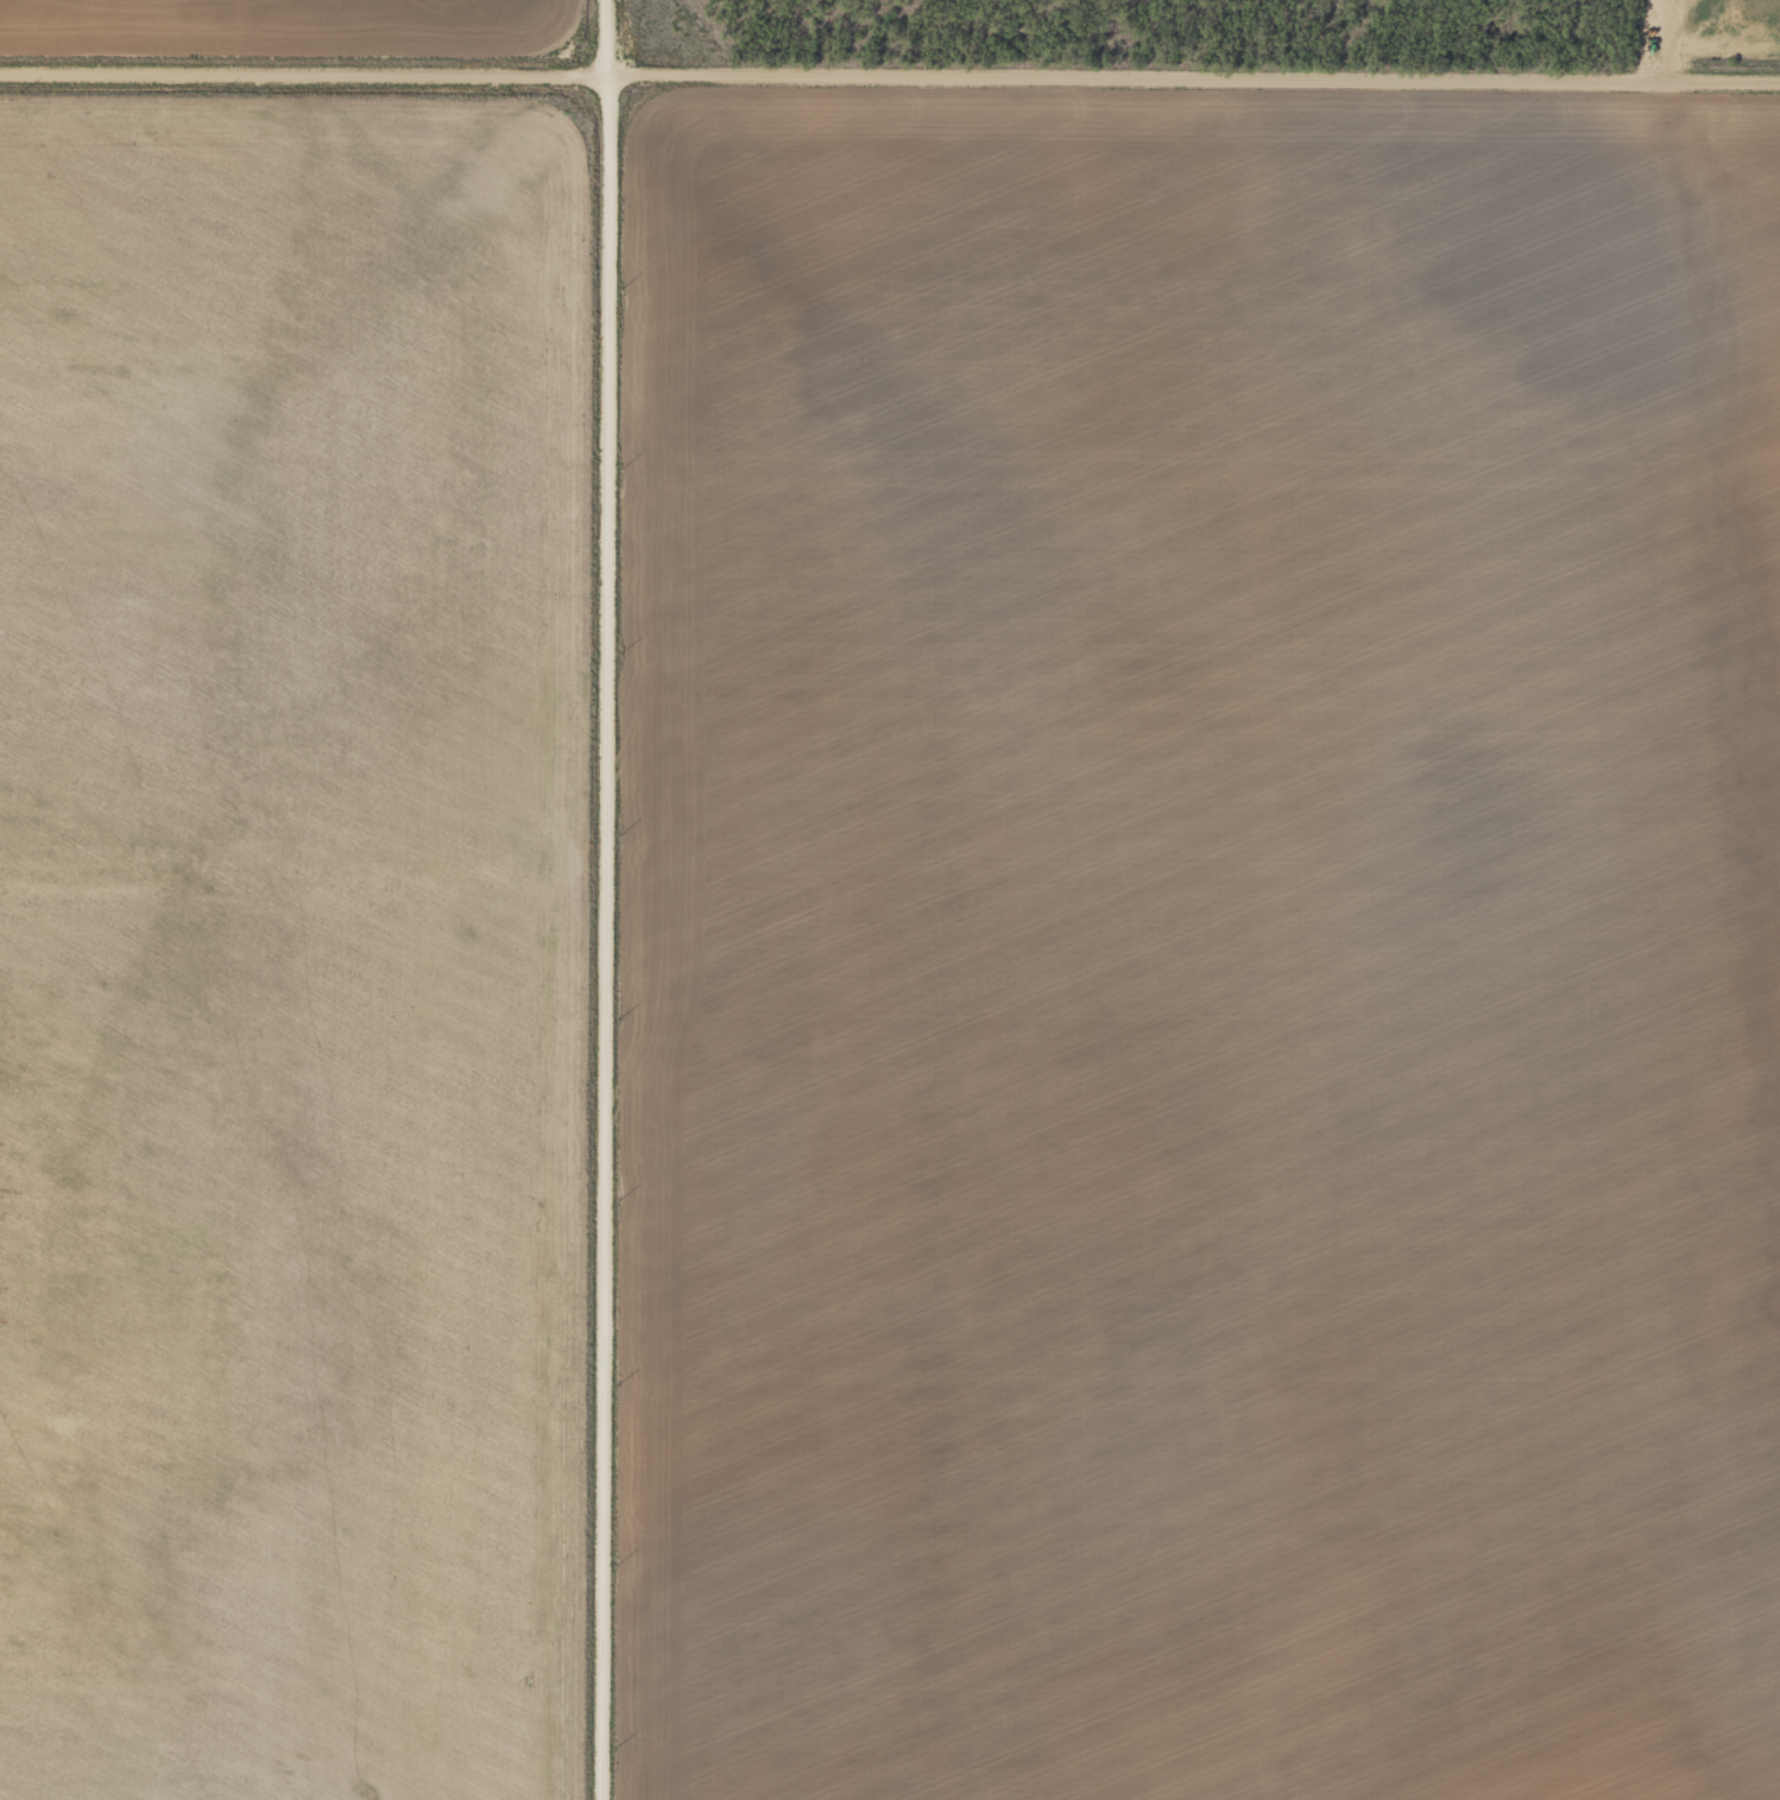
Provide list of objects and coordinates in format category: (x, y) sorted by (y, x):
road: (890, 97)
road: (577, 899)

